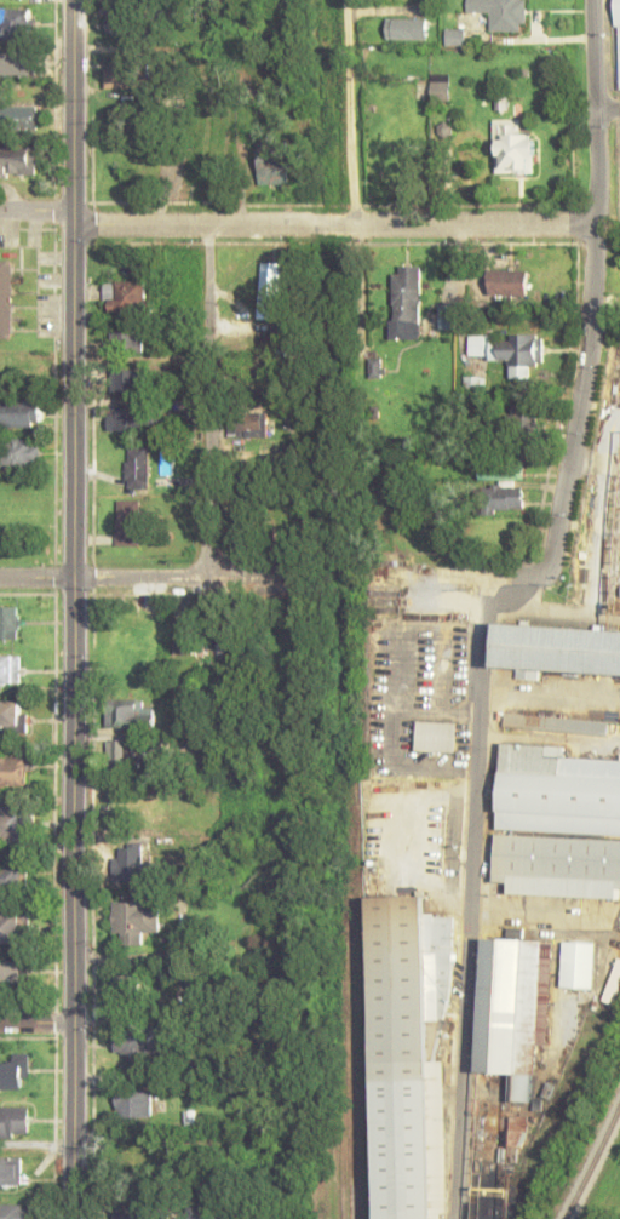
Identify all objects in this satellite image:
building: (501, 13)
building: (16, 19)
building: (125, 24)
building: (407, 28)
building: (618, 41)
road: (593, 55)
building: (17, 63)
building: (126, 75)
building: (440, 82)
road: (608, 109)
road: (349, 111)
building: (18, 118)
building: (515, 148)
building: (18, 160)
road: (36, 211)
road: (333, 224)
building: (507, 282)
building: (127, 296)
building: (6, 299)
building: (406, 302)
building: (277, 311)
building: (127, 339)
road: (589, 348)
building: (509, 350)
building: (128, 380)
road: (207, 401)
building: (19, 412)
building: (522, 418)
building: (128, 419)
building: (251, 420)
building: (21, 453)
building: (136, 464)
building: (500, 470)
building: (498, 498)
building: (286, 515)
building: (128, 523)
road: (174, 577)
road: (35, 578)
road: (70, 608)
building: (10, 622)
building: (285, 622)
building: (184, 636)
building: (224, 645)
building: (557, 649)
building: (10, 670)
building: (136, 712)
building: (12, 715)
building: (436, 736)
building: (121, 754)
building: (13, 772)
building: (557, 823)
building: (17, 824)
building: (128, 866)
building: (11, 879)
road: (471, 887)
building: (136, 920)
building: (15, 928)
building: (576, 965)
building: (13, 971)
building: (613, 983)
building: (513, 1002)
road: (35, 1024)
building: (137, 1043)
building: (406, 1048)
building: (15, 1074)
building: (132, 1104)
building: (13, 1122)
building: (139, 1151)
railway: (593, 1162)
building: (10, 1171)
building: (134, 1192)
building: (12, 1212)
building: (133, 1217)

